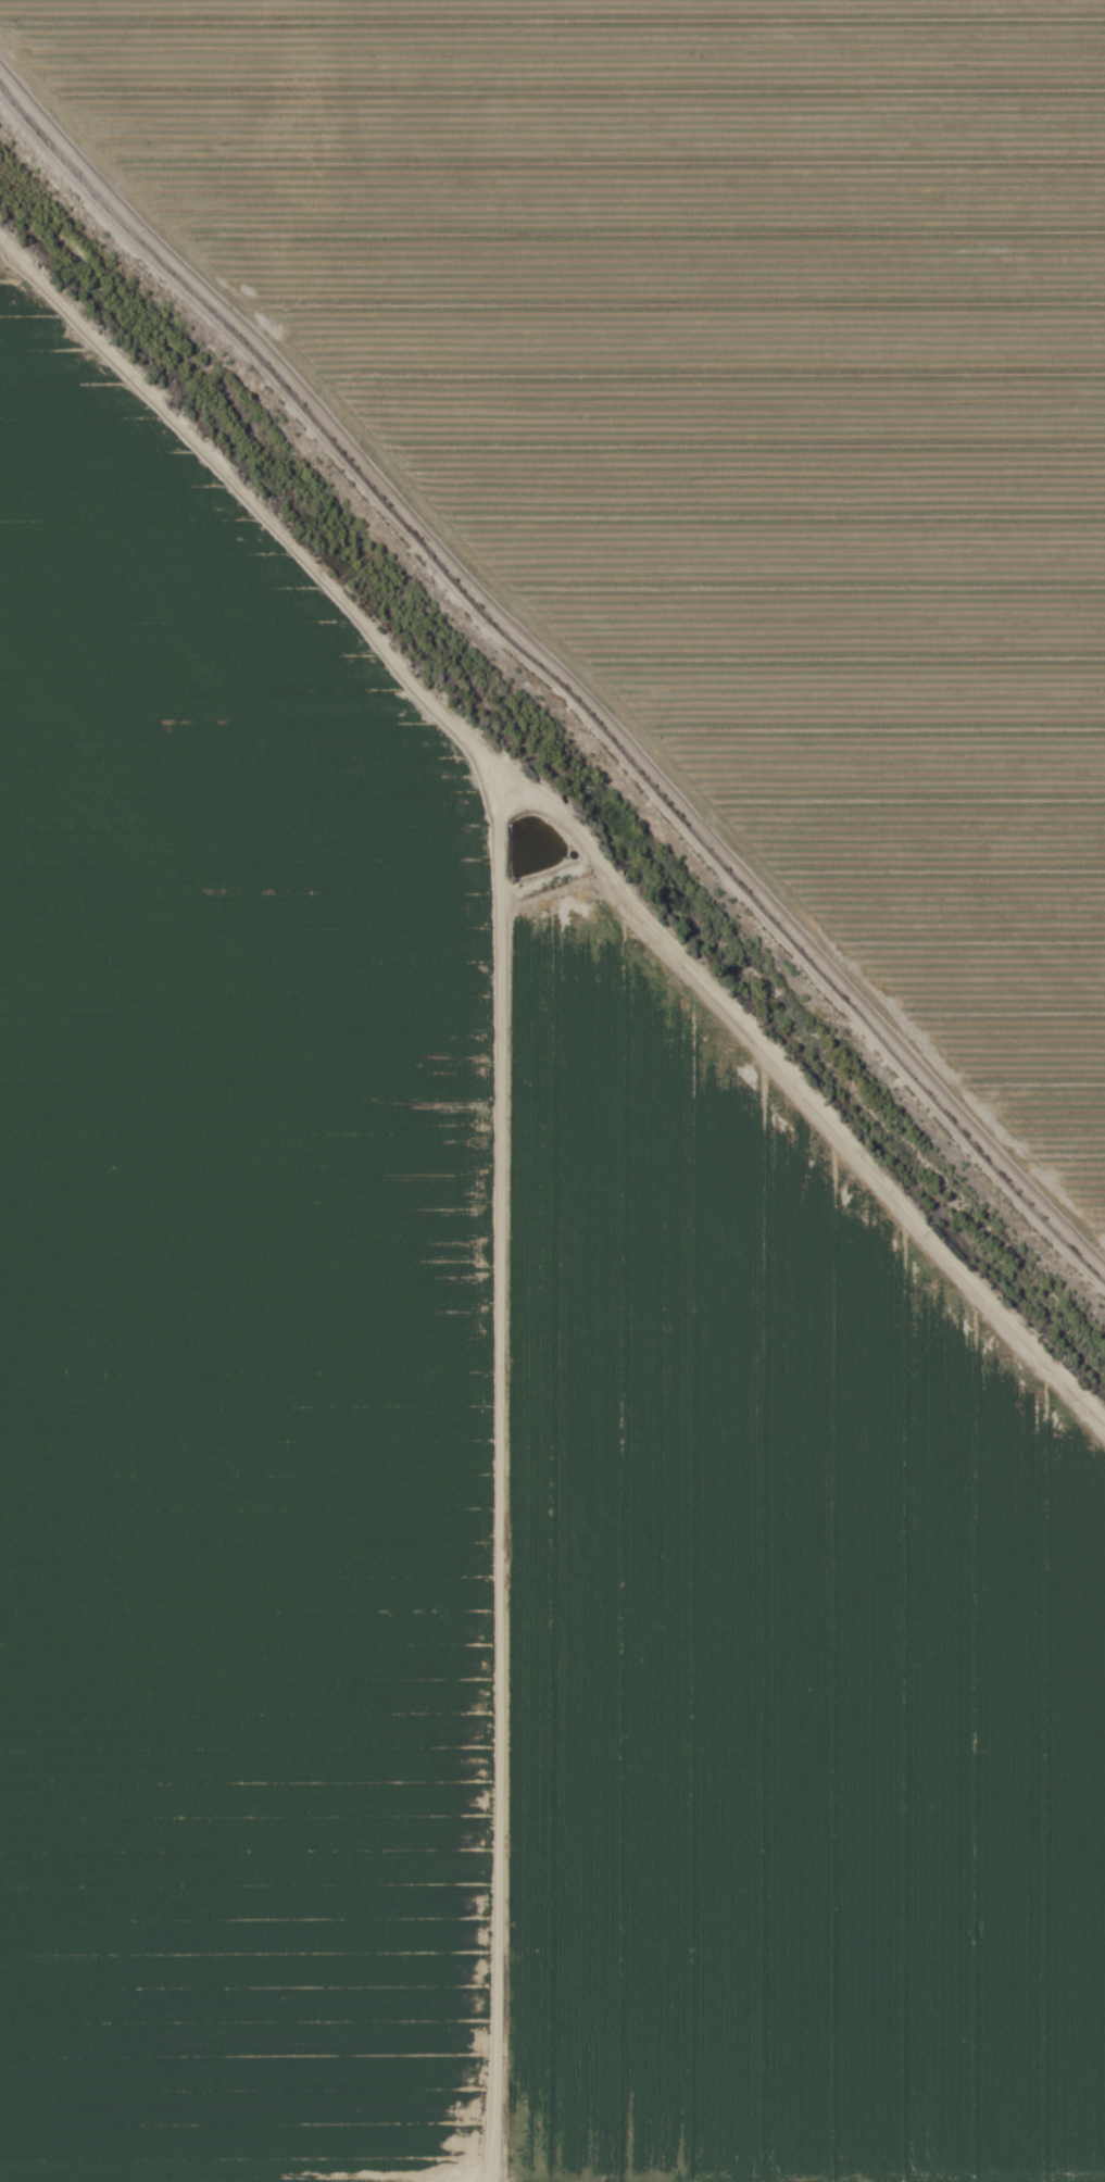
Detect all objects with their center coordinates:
road: (547, 804)
crop: (552, 1091)

